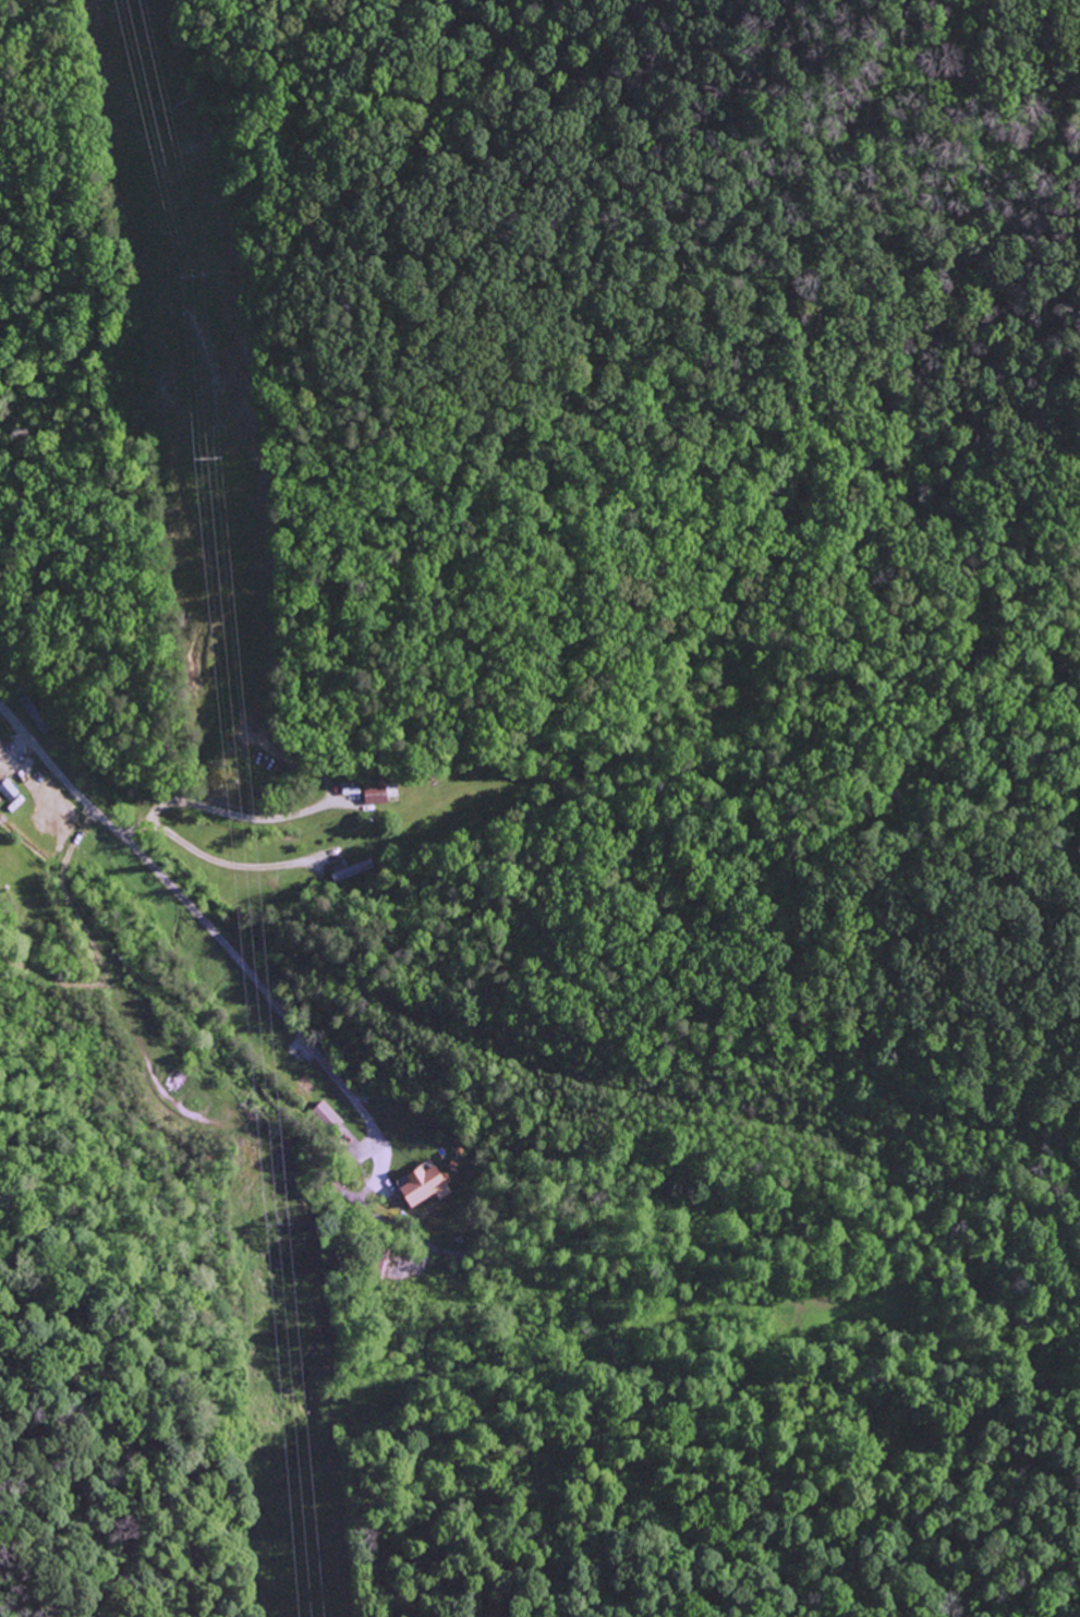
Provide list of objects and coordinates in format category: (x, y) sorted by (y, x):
power tower: (196, 271)
power tower: (211, 454)
building: (373, 796)
road: (187, 904)
building: (417, 1186)
power tower: (280, 1221)

